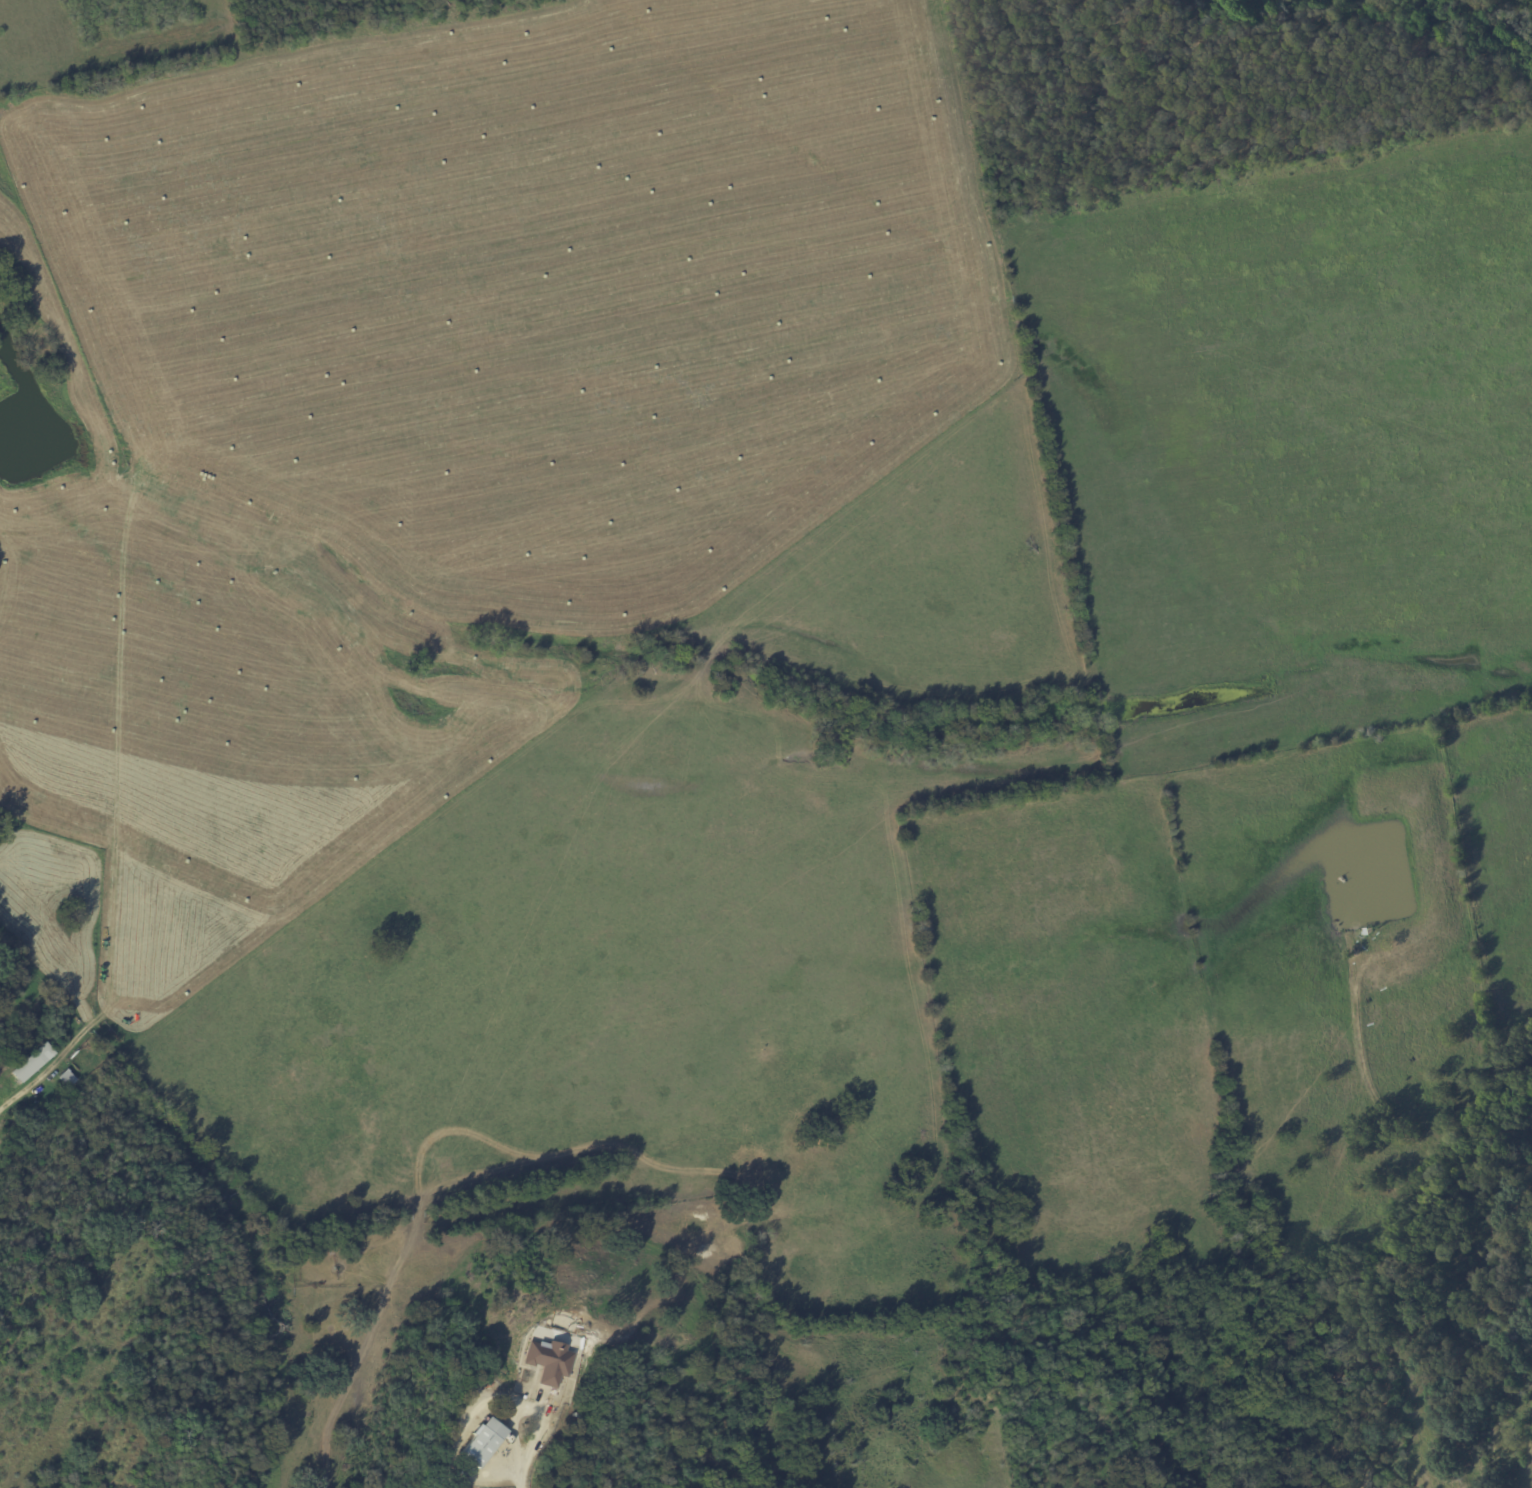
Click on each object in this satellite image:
road: (16, 1094)
building: (545, 1361)
building: (480, 1442)
road: (528, 1445)

